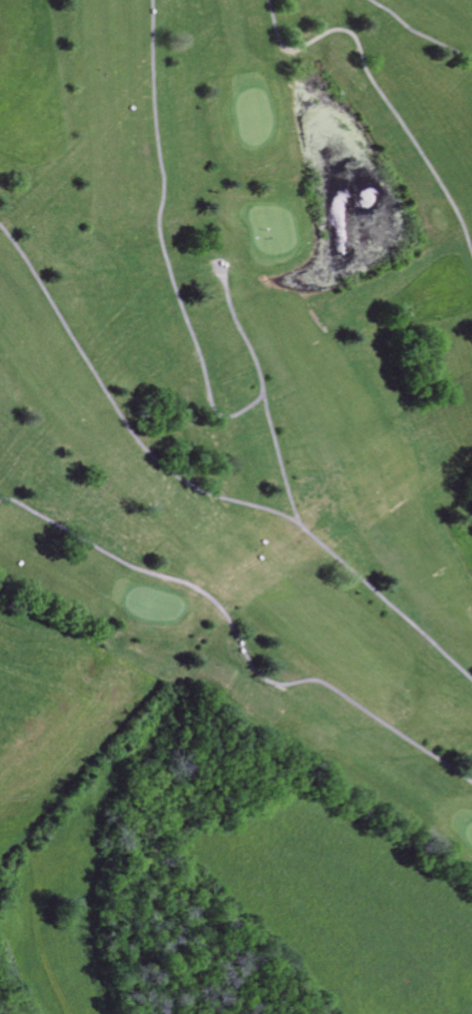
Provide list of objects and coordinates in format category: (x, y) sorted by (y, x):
road: (419, 32)
road: (380, 91)
road: (159, 240)
road: (256, 367)
road: (201, 489)
road: (237, 640)

